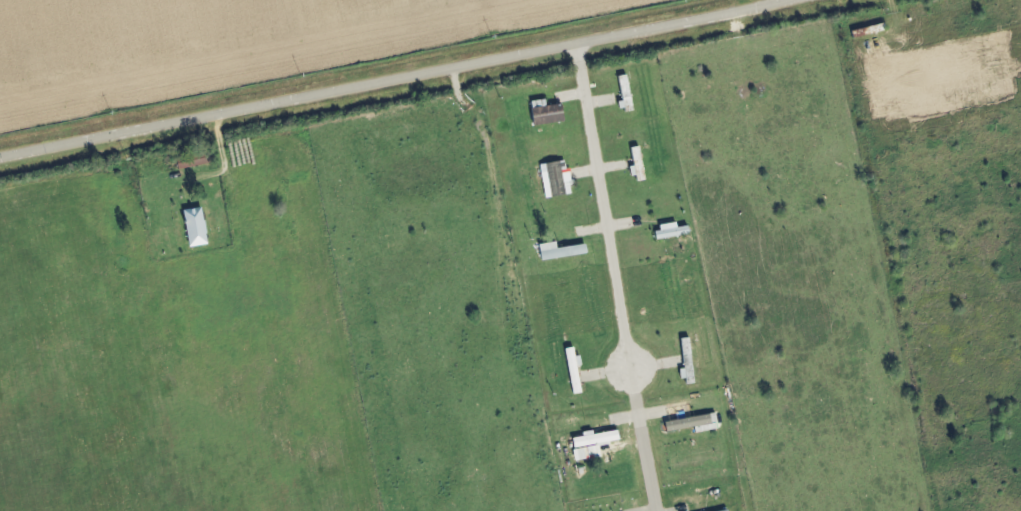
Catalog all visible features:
road: (402, 80)
building: (625, 93)
building: (547, 114)
building: (638, 164)
building: (556, 179)
building: (196, 227)
road: (607, 229)
building: (667, 231)
building: (560, 251)
building: (574, 372)
building: (594, 441)
road: (648, 461)
building: (728, 510)

